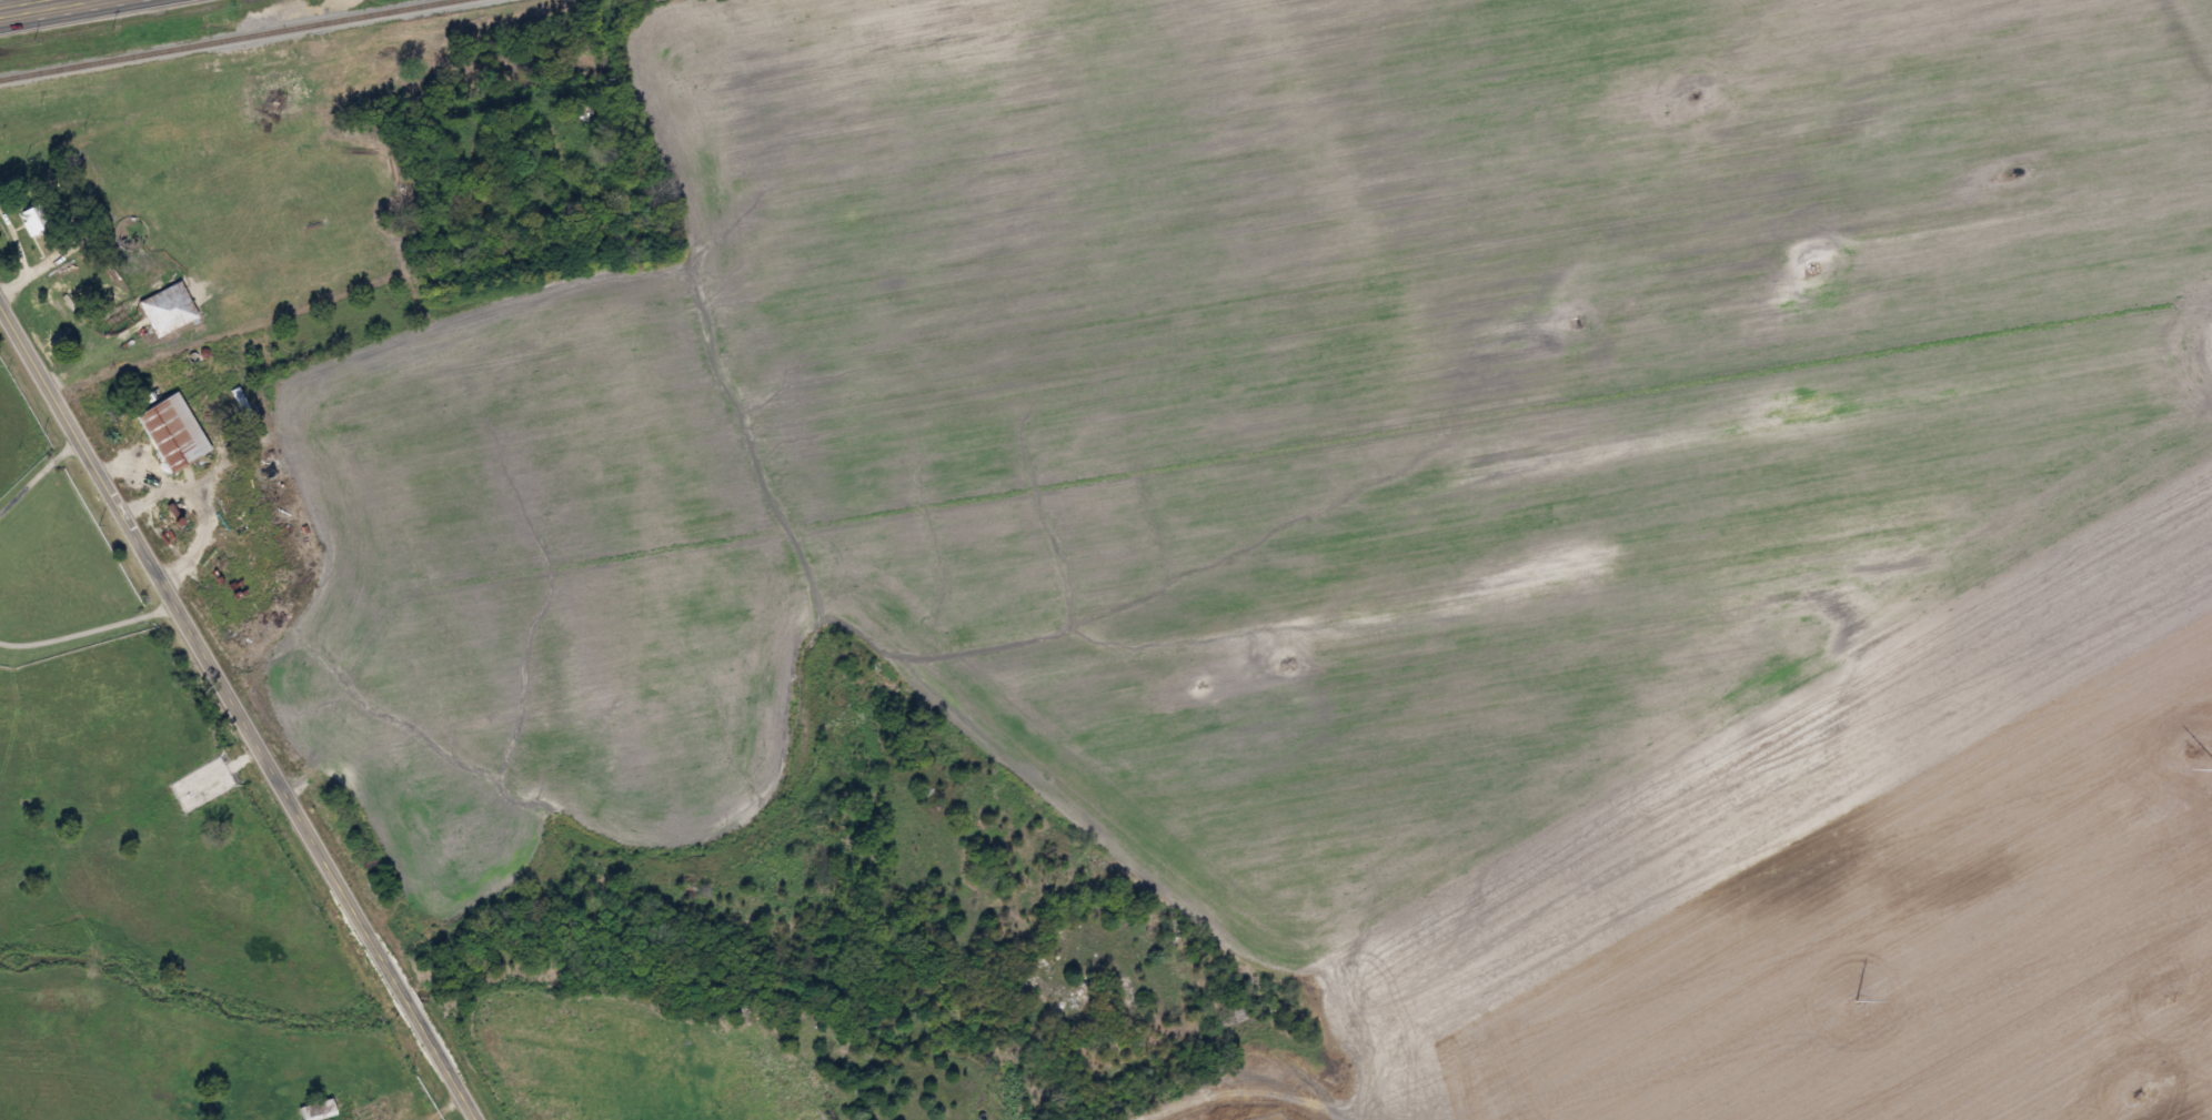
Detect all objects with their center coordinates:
road: (32, 6)
railway: (225, 39)
building: (255, 105)
building: (38, 219)
building: (169, 309)
building: (174, 433)
road: (240, 706)
road: (1155, 1094)
building: (210, 1104)
building: (321, 1108)

